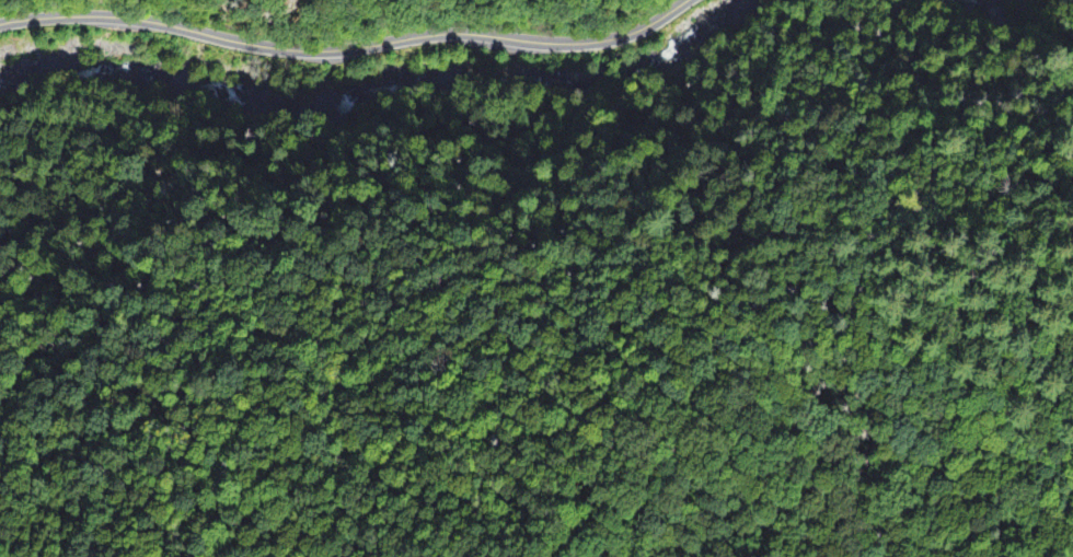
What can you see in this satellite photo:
road: (348, 48)
river: (575, 95)
river: (33, 113)

